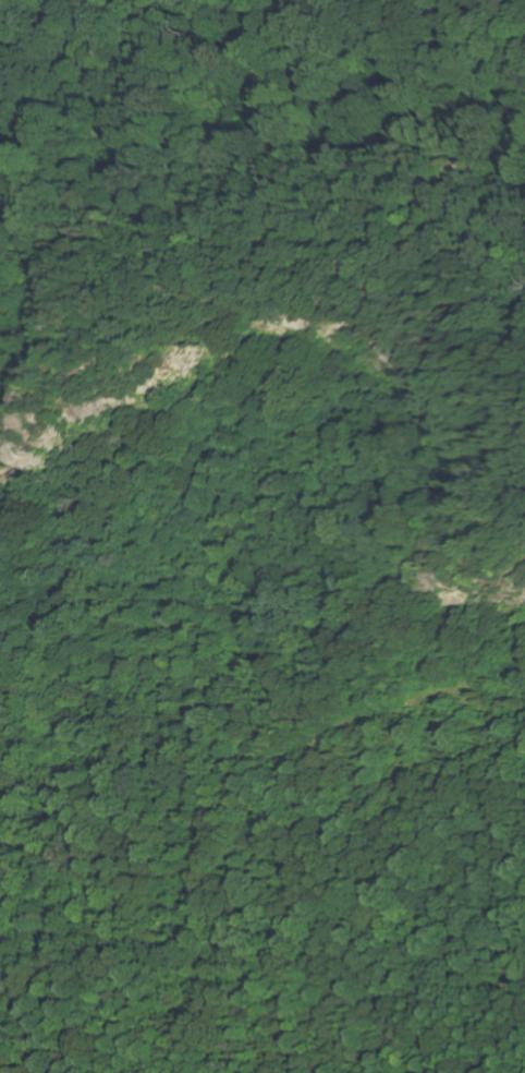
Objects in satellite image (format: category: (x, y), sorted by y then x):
road: (462, 38)
road: (481, 189)
road: (265, 246)

